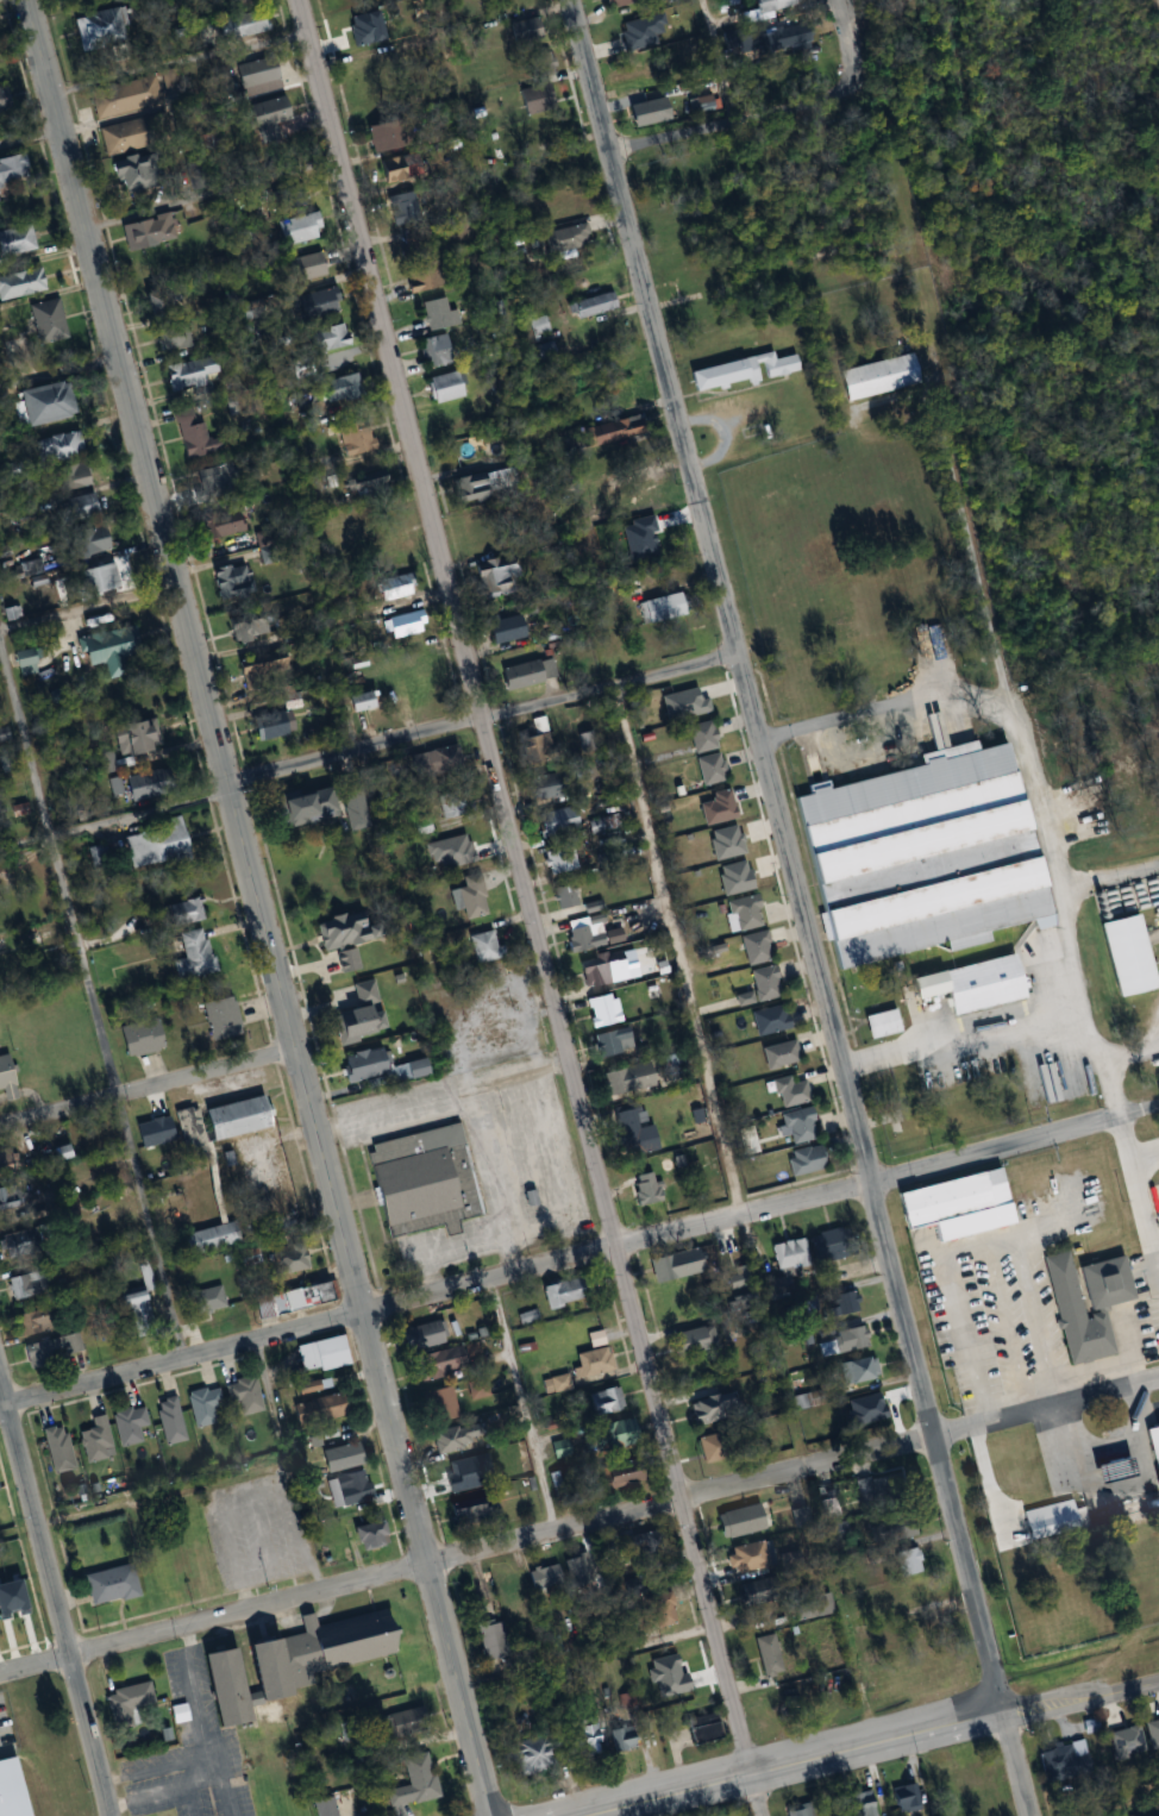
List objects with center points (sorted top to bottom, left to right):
building: (772, 1)
building: (610, 2)
building: (243, 24)
building: (96, 27)
building: (522, 30)
building: (783, 37)
road: (852, 44)
road: (178, 60)
road: (718, 61)
building: (534, 64)
building: (255, 76)
building: (123, 95)
building: (533, 99)
building: (2, 100)
building: (644, 112)
building: (265, 118)
road: (735, 121)
road: (29, 134)
building: (378, 136)
building: (12, 168)
building: (388, 168)
building: (129, 174)
building: (665, 177)
road: (213, 192)
building: (290, 192)
building: (399, 207)
building: (290, 230)
building: (145, 231)
building: (565, 237)
building: (15, 239)
building: (302, 265)
building: (419, 277)
building: (19, 282)
building: (159, 298)
building: (313, 303)
building: (587, 306)
building: (434, 313)
building: (46, 321)
building: (180, 334)
building: (326, 338)
building: (544, 349)
building: (432, 350)
building: (741, 370)
building: (189, 371)
building: (875, 376)
road: (59, 382)
building: (441, 387)
building: (340, 388)
building: (621, 394)
building: (44, 402)
building: (612, 431)
building: (189, 433)
building: (353, 439)
building: (56, 446)
building: (70, 476)
building: (209, 483)
building: (481, 483)
building: (365, 484)
building: (635, 487)
building: (76, 507)
building: (227, 519)
building: (476, 532)
building: (84, 541)
building: (25, 566)
building: (496, 574)
building: (95, 580)
building: (230, 580)
building: (391, 588)
building: (659, 607)
road: (89, 618)
building: (401, 625)
building: (245, 627)
building: (501, 630)
building: (108, 646)
building: (609, 651)
building: (23, 664)
building: (525, 674)
building: (359, 701)
road: (480, 715)
building: (268, 725)
building: (4, 734)
building: (698, 735)
building: (132, 738)
building: (584, 739)
building: (532, 743)
building: (436, 760)
building: (105, 762)
building: (708, 769)
building: (138, 785)
building: (540, 787)
road: (1030, 789)
building: (452, 802)
building: (301, 806)
building: (353, 809)
building: (553, 820)
road: (115, 832)
building: (452, 845)
building: (154, 846)
road: (784, 854)
building: (915, 854)
building: (557, 860)
building: (564, 895)
building: (469, 896)
road: (258, 907)
road: (534, 907)
building: (181, 912)
building: (339, 928)
building: (582, 933)
building: (481, 945)
building: (753, 947)
road: (676, 950)
building: (190, 954)
building: (599, 966)
building: (1123, 973)
building: (966, 984)
building: (759, 985)
road: (94, 991)
building: (600, 1008)
building: (219, 1016)
building: (766, 1020)
building: (352, 1023)
building: (878, 1023)
road: (969, 1026)
building: (138, 1037)
building: (610, 1041)
building: (777, 1054)
building: (359, 1064)
building: (412, 1067)
building: (625, 1078)
building: (4, 1081)
road: (148, 1089)
building: (787, 1091)
road: (445, 1096)
building: (996, 1109)
building: (233, 1116)
building: (796, 1126)
building: (631, 1128)
building: (908, 1128)
building: (55, 1152)
building: (802, 1160)
building: (419, 1181)
road: (491, 1182)
building: (643, 1188)
building: (6, 1196)
road: (1138, 1197)
building: (954, 1203)
road: (760, 1210)
building: (10, 1231)
building: (207, 1238)
building: (826, 1245)
road: (446, 1253)
building: (787, 1253)
building: (286, 1258)
building: (674, 1264)
building: (737, 1279)
building: (26, 1283)
building: (776, 1285)
building: (560, 1291)
building: (292, 1297)
building: (206, 1298)
building: (842, 1302)
building: (1083, 1302)
building: (134, 1307)
building: (36, 1320)
building: (424, 1334)
building: (694, 1339)
building: (842, 1339)
building: (38, 1353)
building: (321, 1353)
road: (181, 1360)
building: (437, 1363)
building: (856, 1370)
building: (311, 1385)
building: (243, 1395)
building: (604, 1399)
building: (801, 1399)
building: (201, 1404)
building: (438, 1404)
road: (525, 1405)
building: (314, 1409)
building: (701, 1411)
building: (168, 1420)
building: (126, 1423)
building: (610, 1434)
building: (455, 1436)
building: (93, 1439)
building: (708, 1446)
building: (1152, 1446)
building: (56, 1448)
building: (339, 1454)
road: (792, 1471)
building: (462, 1473)
building: (613, 1474)
building: (867, 1488)
building: (352, 1489)
building: (827, 1507)
building: (463, 1510)
building: (1052, 1518)
building: (735, 1521)
building: (902, 1527)
building: (835, 1528)
building: (368, 1534)
building: (647, 1543)
building: (744, 1557)
building: (906, 1560)
building: (577, 1568)
building: (544, 1576)
building: (107, 1584)
building: (507, 1588)
building: (915, 1592)
road: (55, 1599)
building: (808, 1607)
building: (659, 1608)
road: (213, 1618)
building: (490, 1637)
building: (765, 1654)
building: (305, 1658)
building: (933, 1660)
building: (683, 1680)
building: (218, 1686)
road: (1079, 1698)
building: (124, 1703)
building: (175, 1712)
building: (402, 1722)
building: (700, 1728)
building: (589, 1737)
building: (620, 1737)
building: (532, 1749)
building: (1063, 1759)
road: (787, 1762)
road: (1011, 1762)
building: (413, 1780)
building: (956, 1781)
building: (17, 1787)
building: (902, 1797)
building: (859, 1803)
building: (320, 1805)
building: (795, 1810)

